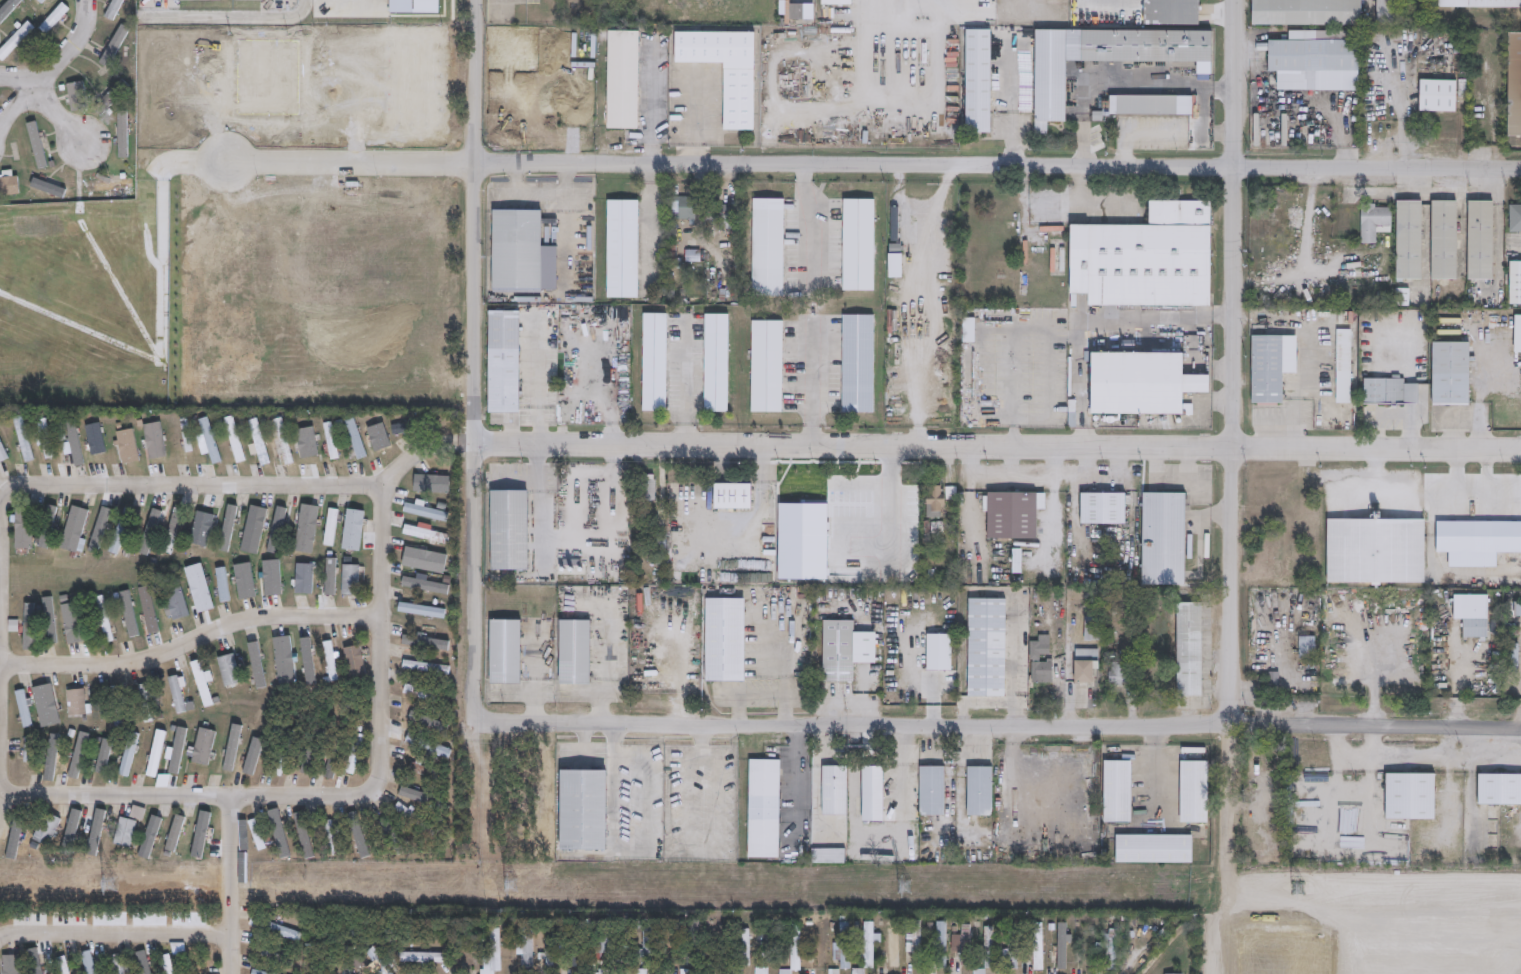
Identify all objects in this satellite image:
building: (39, 1)
building: (42, 1)
building: (836, 2)
building: (1478, 3)
building: (114, 9)
building: (793, 11)
building: (1303, 12)
building: (1383, 12)
road: (294, 16)
building: (52, 17)
road: (216, 20)
building: (14, 38)
road: (71, 43)
building: (111, 44)
building: (1117, 49)
building: (1308, 54)
building: (724, 69)
road: (19, 76)
building: (978, 78)
building: (622, 79)
building: (1513, 83)
road: (1118, 85)
building: (1434, 95)
building: (0, 96)
building: (75, 96)
building: (110, 96)
road: (28, 104)
building: (1147, 105)
road: (64, 118)
building: (1382, 122)
road: (1137, 133)
road: (874, 166)
building: (113, 184)
building: (12, 185)
road: (543, 193)
road: (1094, 206)
building: (683, 208)
building: (723, 213)
building: (1514, 218)
road: (137, 220)
building: (1370, 221)
building: (893, 222)
road: (653, 223)
road: (805, 224)
building: (1441, 239)
building: (1406, 240)
building: (1477, 240)
building: (858, 244)
building: (768, 247)
building: (621, 248)
building: (515, 249)
building: (1145, 257)
building: (1514, 282)
building: (1399, 296)
building: (604, 314)
road: (1142, 322)
road: (1000, 323)
building: (969, 329)
building: (1516, 333)
building: (502, 359)
road: (475, 362)
building: (654, 362)
building: (716, 362)
building: (858, 363)
road: (1236, 363)
building: (766, 365)
building: (1268, 366)
building: (1343, 366)
building: (966, 368)
road: (1014, 368)
road: (686, 369)
building: (1447, 372)
building: (1140, 383)
road: (810, 385)
road: (1078, 388)
road: (1303, 390)
building: (1372, 391)
building: (579, 396)
building: (186, 434)
building: (191, 435)
road: (686, 435)
building: (360, 437)
building: (28, 438)
building: (46, 438)
building: (51, 438)
building: (79, 438)
building: (233, 438)
building: (281, 441)
building: (126, 446)
building: (5, 448)
road: (998, 448)
road: (401, 473)
road: (991, 477)
road: (1019, 477)
road: (200, 486)
building: (817, 493)
road: (1407, 494)
building: (731, 496)
building: (951, 497)
building: (648, 498)
building: (933, 501)
road: (966, 504)
road: (1051, 508)
building: (1103, 508)
building: (424, 512)
building: (1010, 521)
building: (353, 526)
building: (22, 527)
building: (228, 527)
building: (72, 528)
building: (507, 530)
building: (171, 531)
building: (118, 535)
building: (1164, 539)
building: (1478, 542)
building: (658, 549)
building: (1376, 551)
building: (424, 559)
building: (1017, 561)
building: (781, 566)
building: (689, 578)
building: (304, 579)
building: (349, 580)
building: (649, 580)
building: (175, 603)
building: (1519, 609)
building: (1478, 617)
building: (103, 620)
building: (12, 624)
building: (30, 625)
building: (1093, 629)
road: (2, 637)
road: (191, 637)
building: (724, 640)
road: (383, 641)
building: (987, 648)
building: (1308, 648)
building: (1190, 649)
building: (845, 651)
building: (939, 651)
building: (503, 652)
building: (574, 653)
building: (1515, 657)
building: (1035, 659)
building: (283, 660)
building: (330, 661)
building: (353, 662)
building: (1085, 665)
building: (227, 671)
building: (1119, 672)
building: (201, 684)
building: (1273, 687)
building: (181, 694)
building: (420, 694)
building: (75, 703)
building: (149, 703)
building: (45, 704)
building: (22, 707)
building: (115, 707)
road: (999, 729)
building: (427, 745)
building: (201, 747)
building: (27, 750)
building: (156, 752)
building: (282, 753)
building: (334, 755)
building: (77, 756)
building: (1500, 790)
building: (834, 791)
building: (931, 791)
building: (980, 792)
building: (1117, 792)
building: (1194, 793)
building: (871, 795)
road: (191, 796)
building: (1411, 797)
building: (763, 809)
building: (580, 811)
building: (416, 819)
building: (72, 826)
building: (46, 828)
building: (123, 831)
building: (301, 834)
building: (359, 834)
building: (393, 834)
building: (256, 835)
building: (334, 836)
building: (1153, 850)
road: (1230, 850)
building: (828, 855)
power tower: (109, 883)
road: (231, 884)
power tower: (510, 884)
power tower: (903, 885)
power tower: (1296, 886)
building: (280, 929)
road: (114, 931)
building: (602, 935)
building: (572, 941)
building: (693, 942)
building: (716, 942)
building: (769, 942)
building: (941, 943)
building: (1055, 943)
building: (526, 944)
building: (867, 944)
building: (1038, 944)
building: (645, 946)
building: (746, 946)
building: (843, 946)
building: (674, 947)
building: (987, 947)
building: (548, 948)
building: (794, 948)
building: (1111, 948)
building: (1010, 950)
building: (492, 953)
building: (277, 956)
building: (418, 956)
building: (368, 960)
building: (10, 964)
building: (116, 964)
building: (170, 964)
building: (67, 965)
building: (199, 968)
building: (761, 970)
building: (606, 971)
building: (641, 971)
building: (687, 971)
building: (259, 972)
building: (1171, 973)

